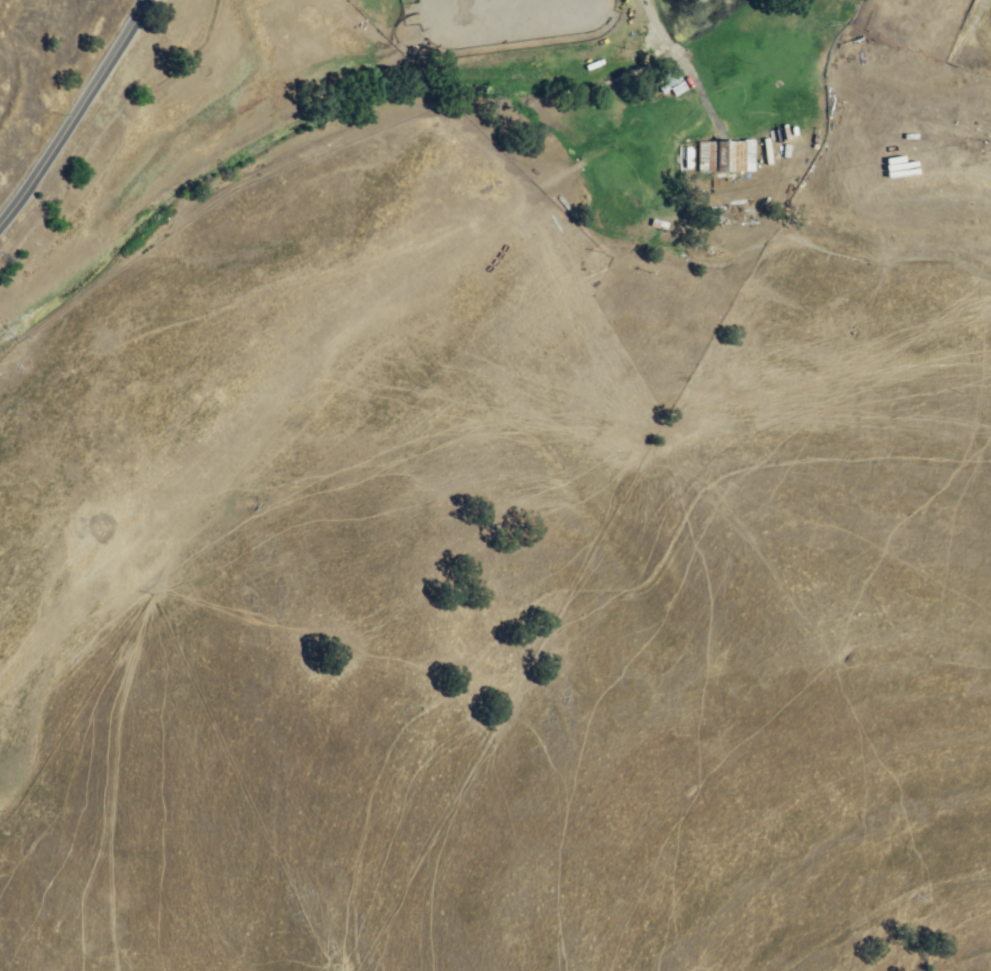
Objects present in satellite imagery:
road: (677, 59)
building: (672, 79)
road: (78, 115)
building: (729, 157)

